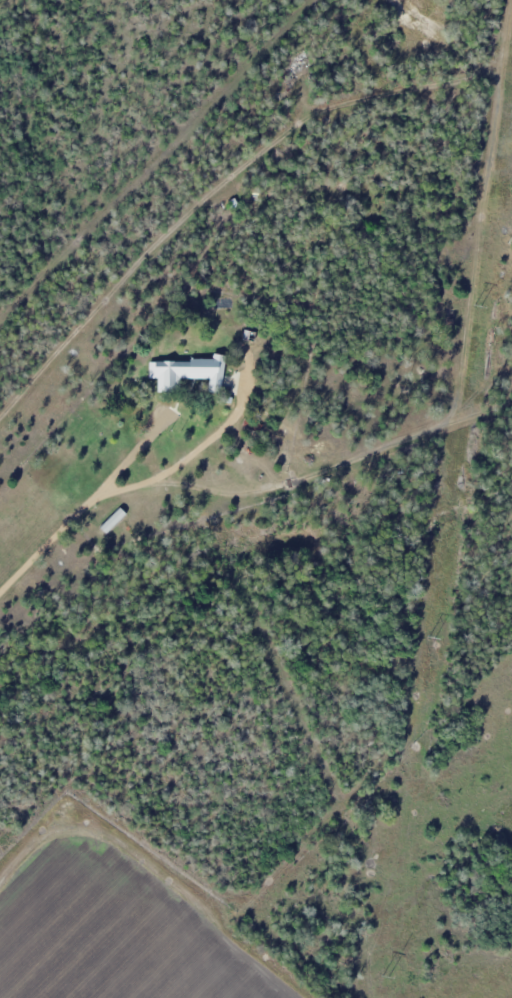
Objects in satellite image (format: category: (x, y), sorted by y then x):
power tower: (475, 305)
building: (190, 373)
building: (112, 521)
road: (54, 539)
power tower: (428, 641)
power tower: (383, 977)

